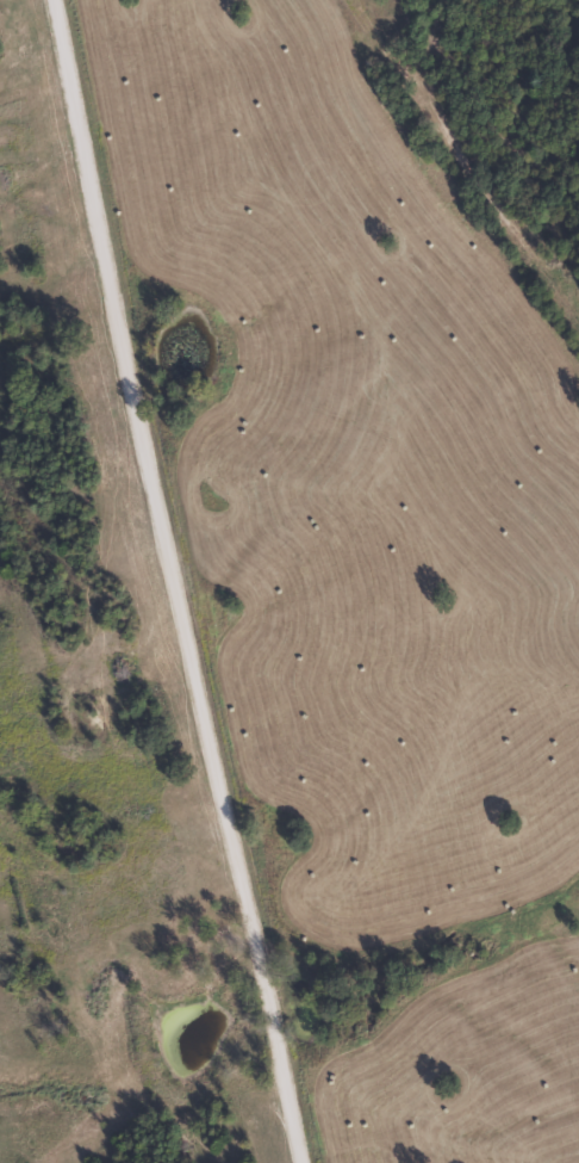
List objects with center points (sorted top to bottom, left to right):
road: (160, 579)

